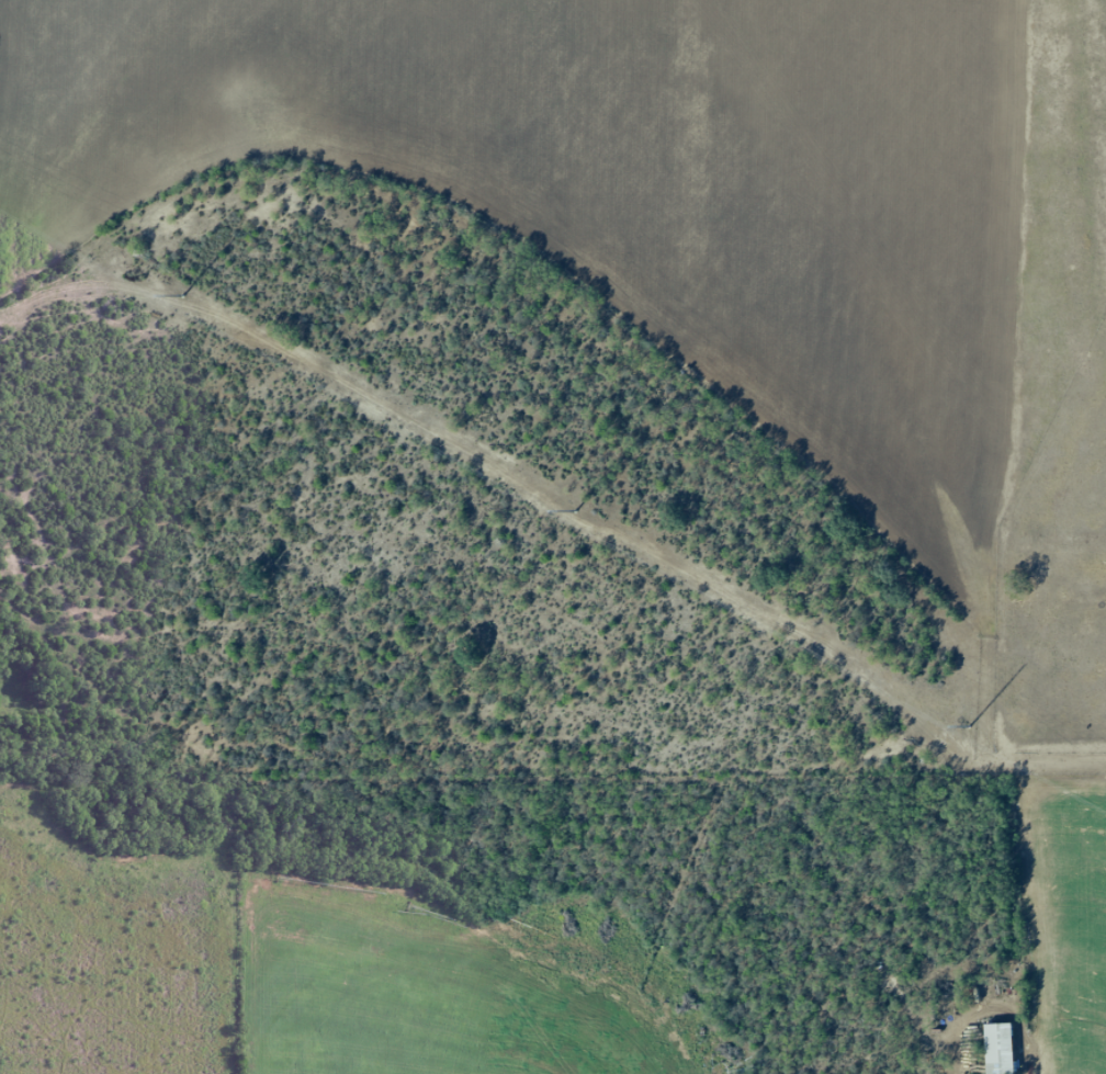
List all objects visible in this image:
power tower: (183, 296)
power tower: (575, 512)
power tower: (969, 727)
building: (993, 1049)

